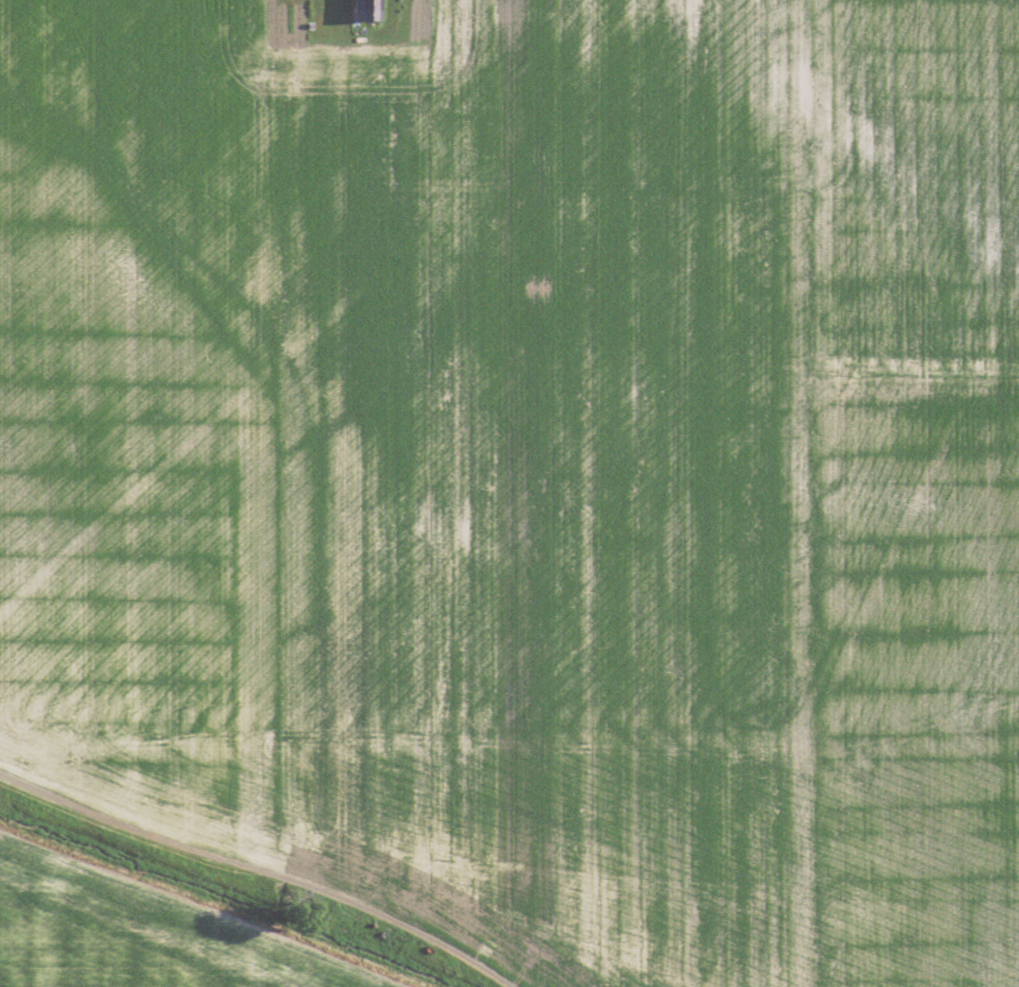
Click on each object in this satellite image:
building: (370, 11)

